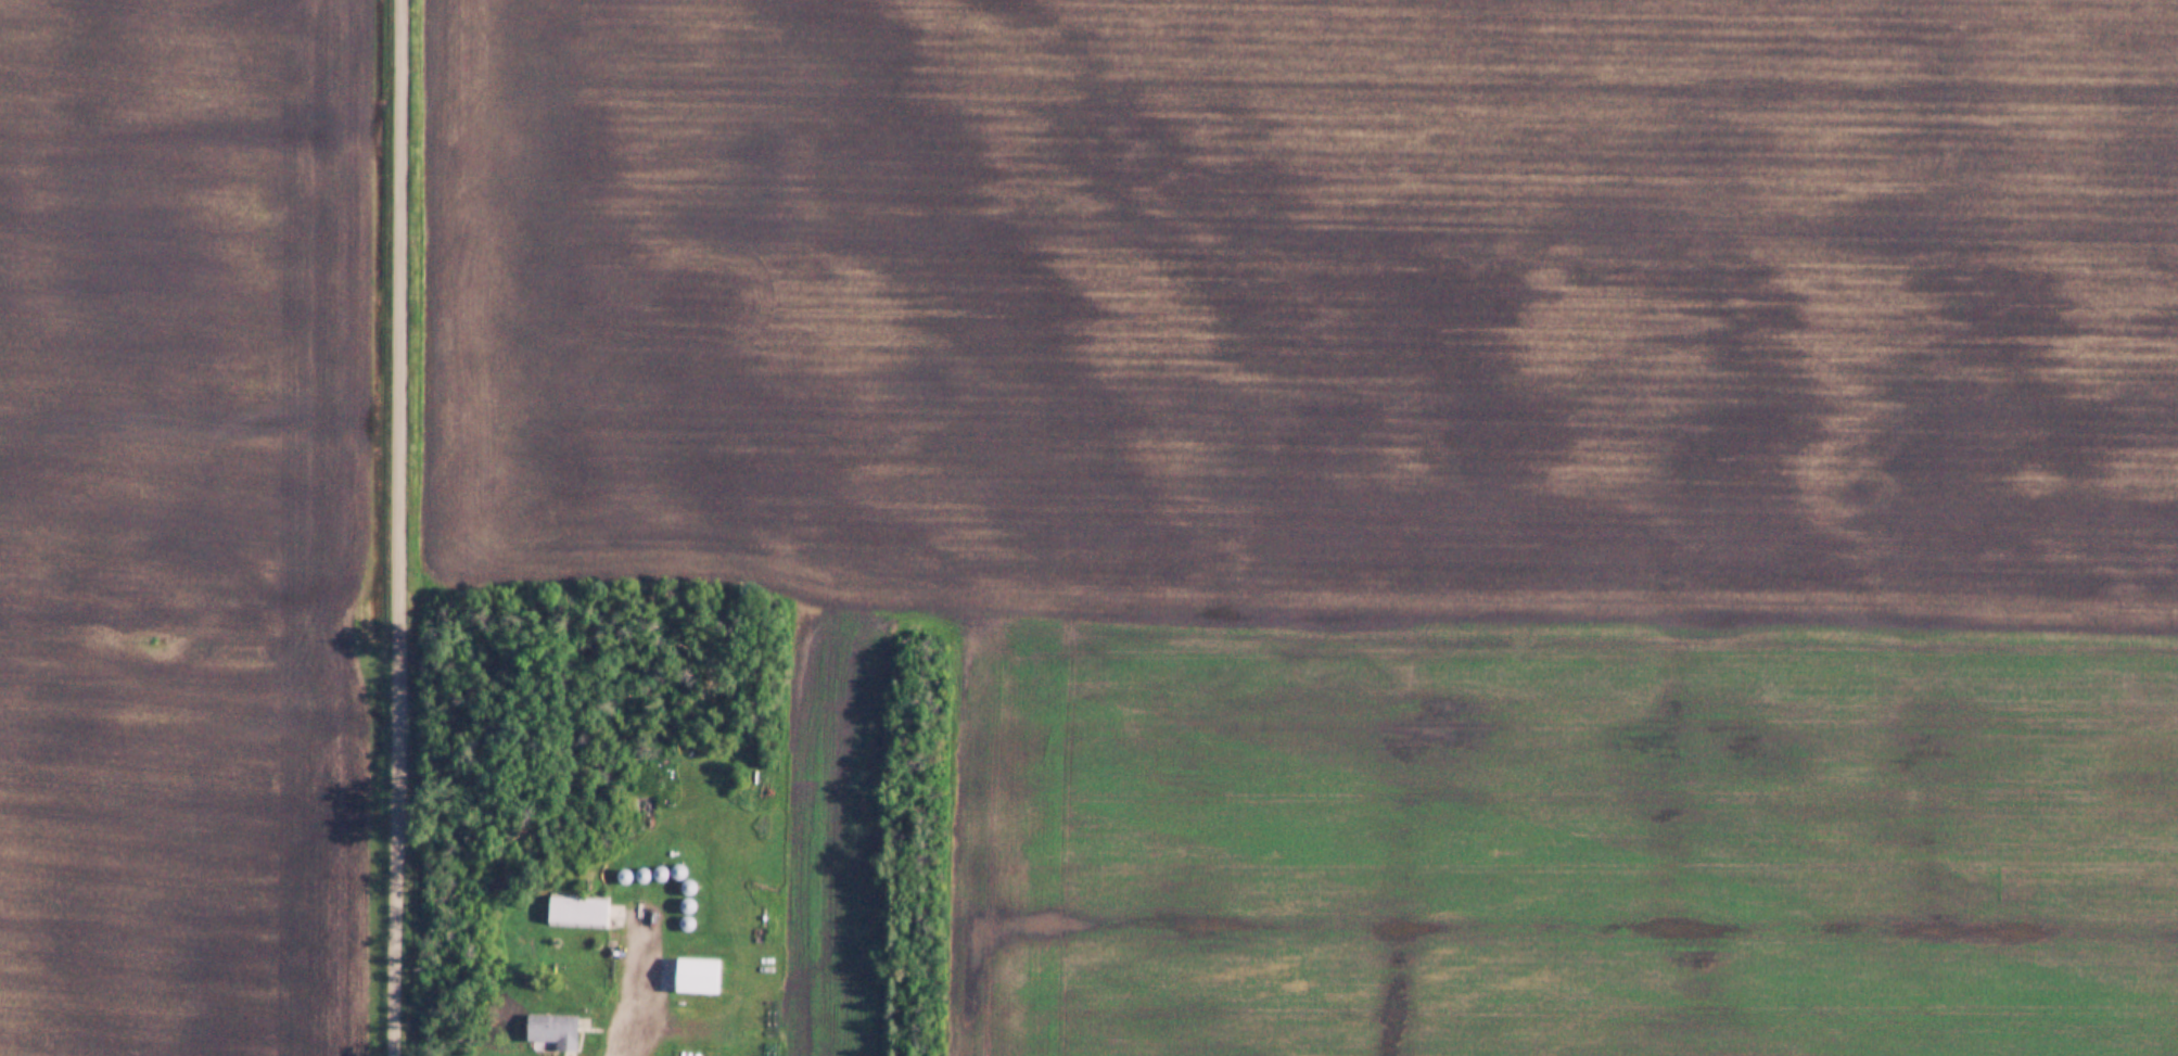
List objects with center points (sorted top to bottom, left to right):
road: (400, 527)
building: (571, 906)
building: (691, 971)
road: (640, 980)
building: (547, 1028)

